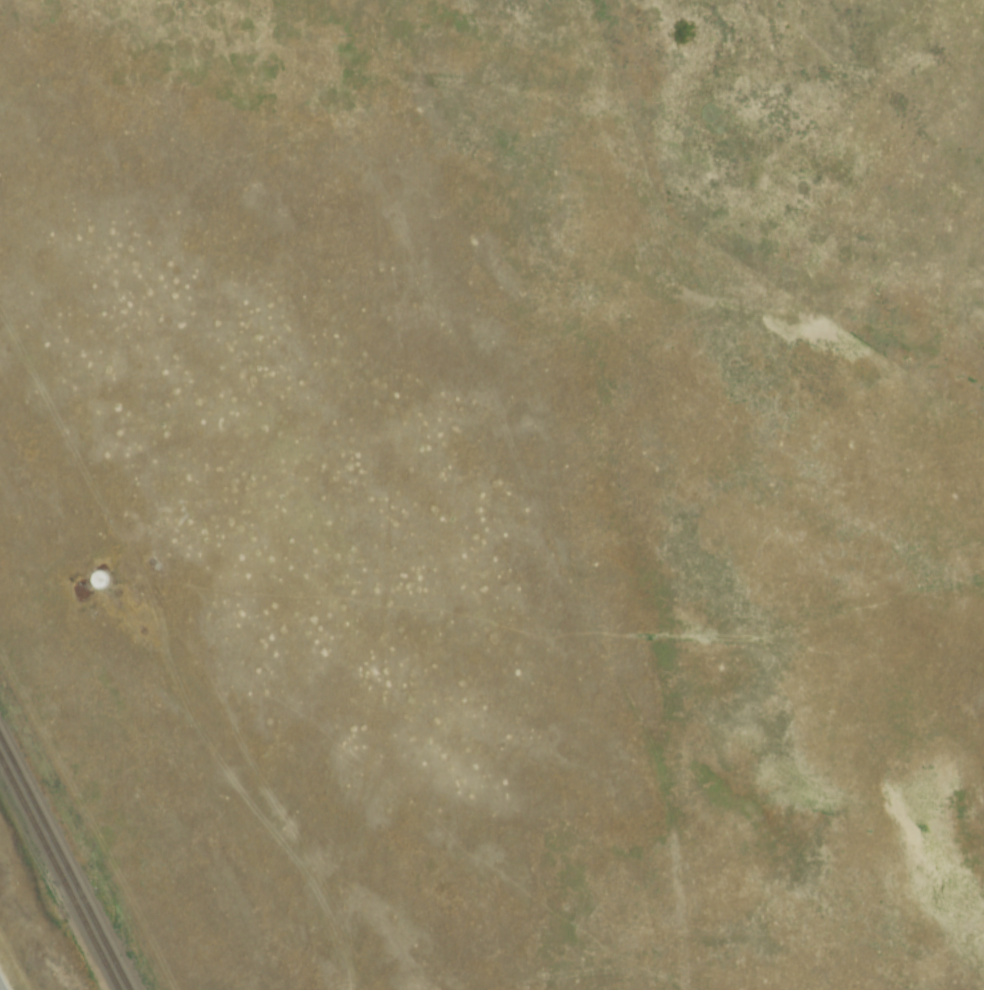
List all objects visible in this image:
railway: (67, 859)
railway: (58, 873)
road: (1, 986)

